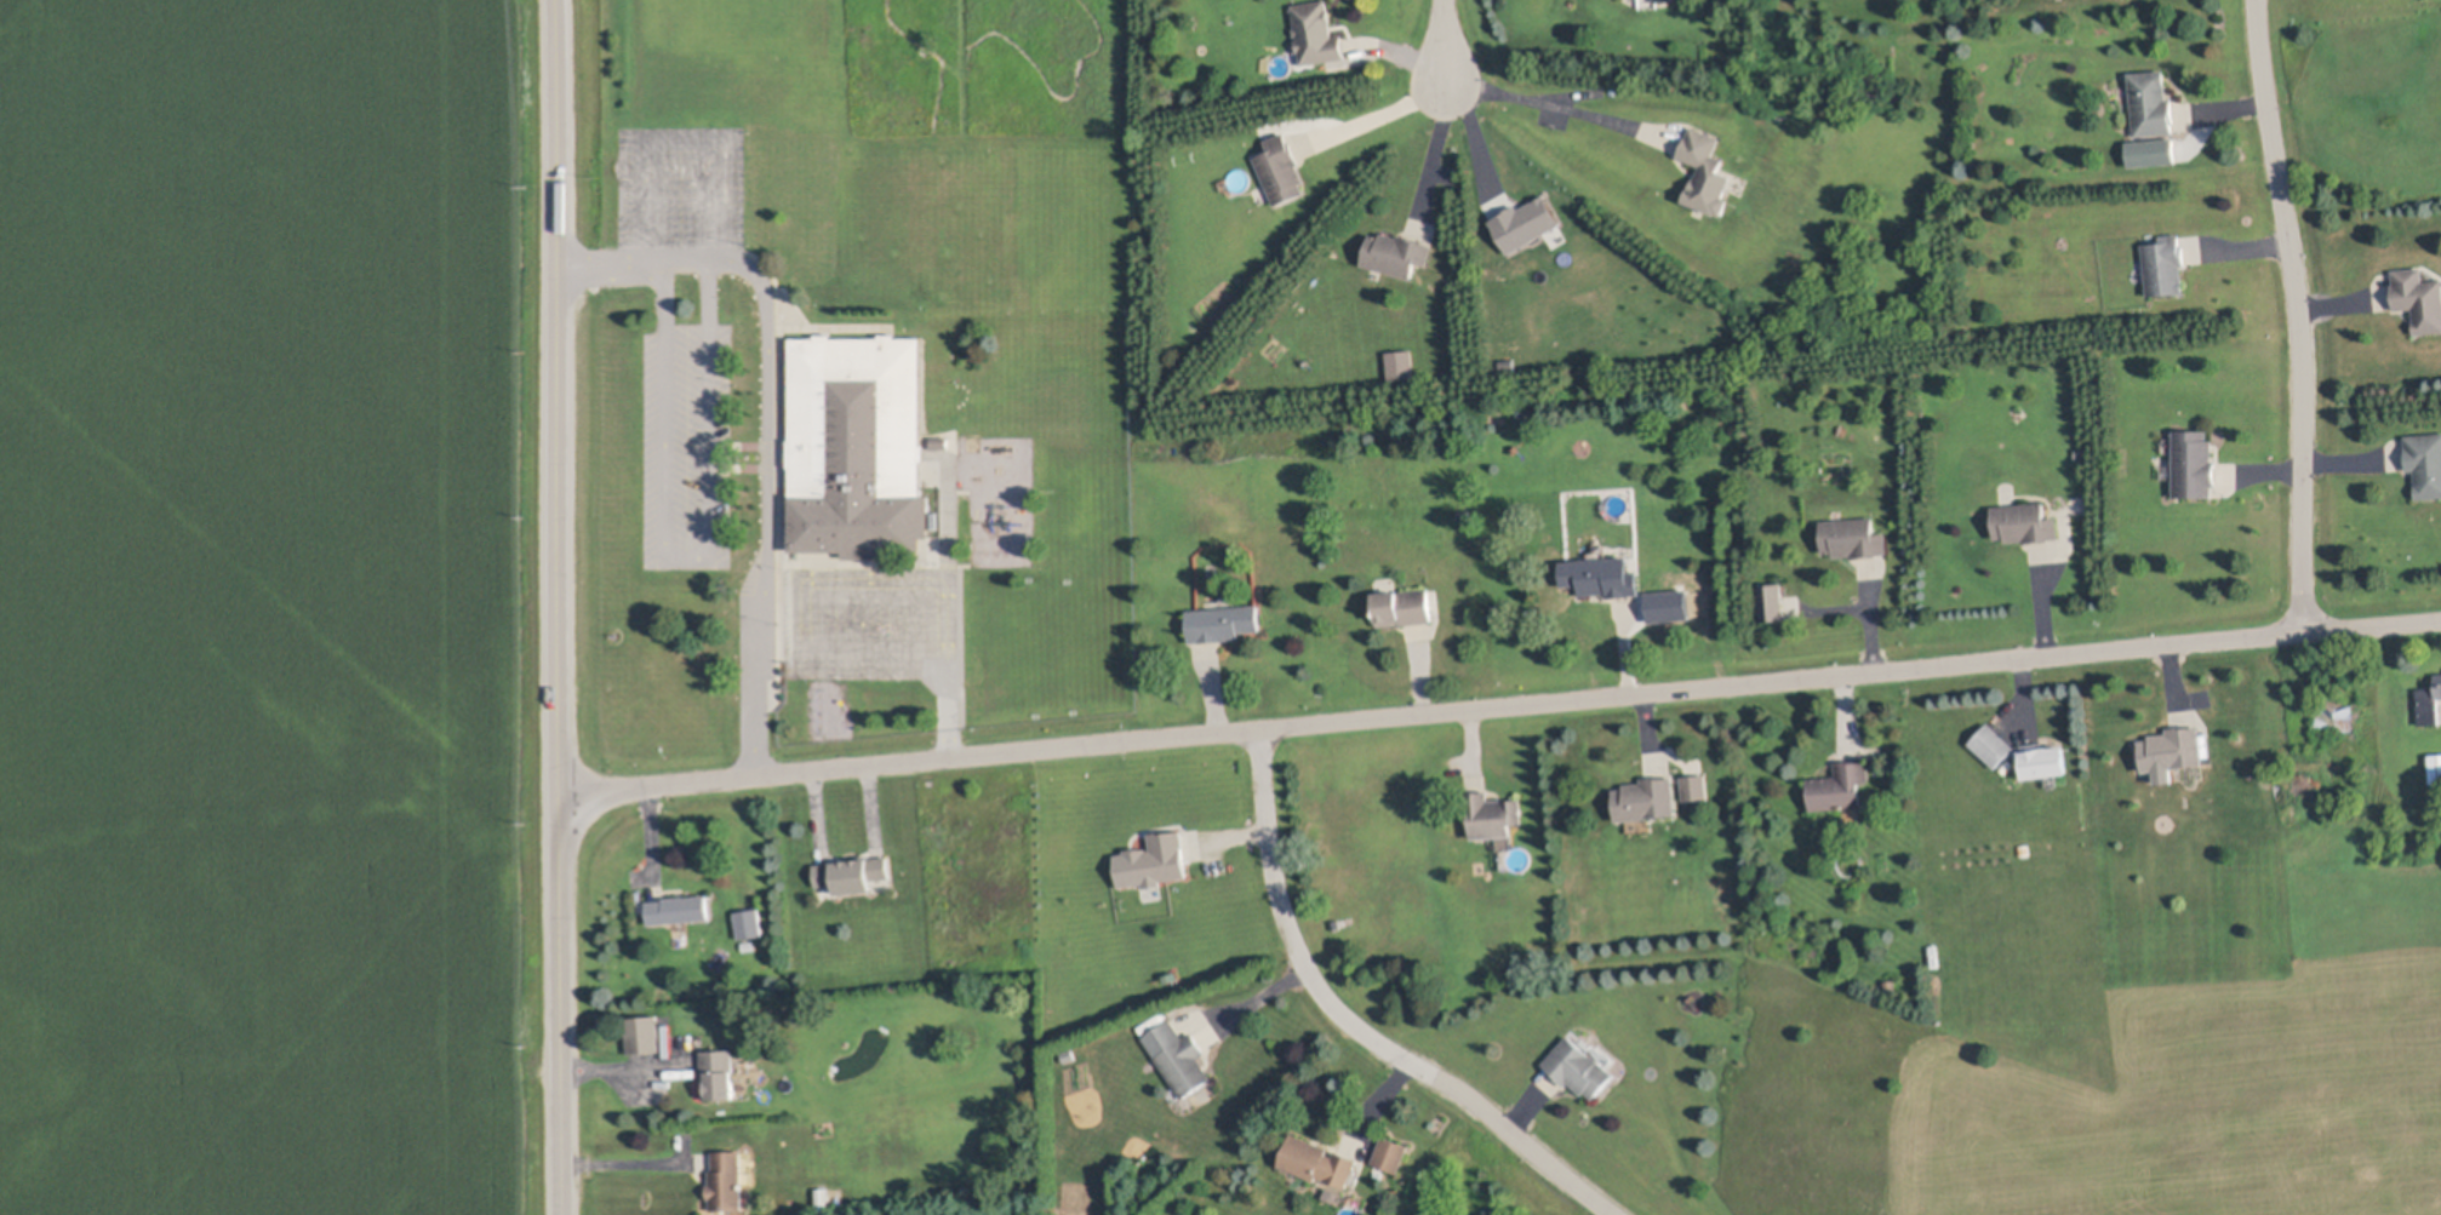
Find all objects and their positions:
building: (1660, 0)
building: (1317, 33)
road: (1442, 42)
building: (2151, 103)
road: (682, 138)
building: (2154, 153)
building: (1281, 168)
building: (1707, 172)
parking lot: (680, 206)
building: (1526, 224)
building: (1396, 253)
building: (2165, 265)
building: (2418, 297)
road: (2297, 314)
building: (1400, 365)
road: (704, 435)
building: (942, 442)
parking lot: (703, 446)
building: (862, 448)
building: (2083, 454)
building: (2425, 463)
building: (2194, 464)
building: (1464, 515)
building: (2024, 523)
building: (1853, 538)
building: (1610, 578)
road: (850, 596)
building: (1772, 601)
road: (559, 607)
building: (1670, 607)
building: (1402, 608)
building: (1223, 623)
parking lot: (870, 624)
building: (2356, 660)
building: (2429, 701)
road: (1500, 705)
building: (2342, 710)
building: (2172, 752)
building: (2022, 755)
building: (2435, 766)
building: (1696, 786)
building: (1840, 786)
building: (1646, 800)
building: (1491, 814)
building: (2025, 849)
building: (1153, 860)
building: (852, 872)
building: (680, 910)
building: (749, 922)
building: (1892, 986)
road: (1356, 1025)
building: (644, 1033)
building: (1070, 1056)
building: (1179, 1058)
building: (1579, 1067)
road: (623, 1070)
building: (718, 1073)
road: (579, 1079)
building: (1391, 1153)
building: (1317, 1160)
road: (633, 1164)
building: (726, 1181)

